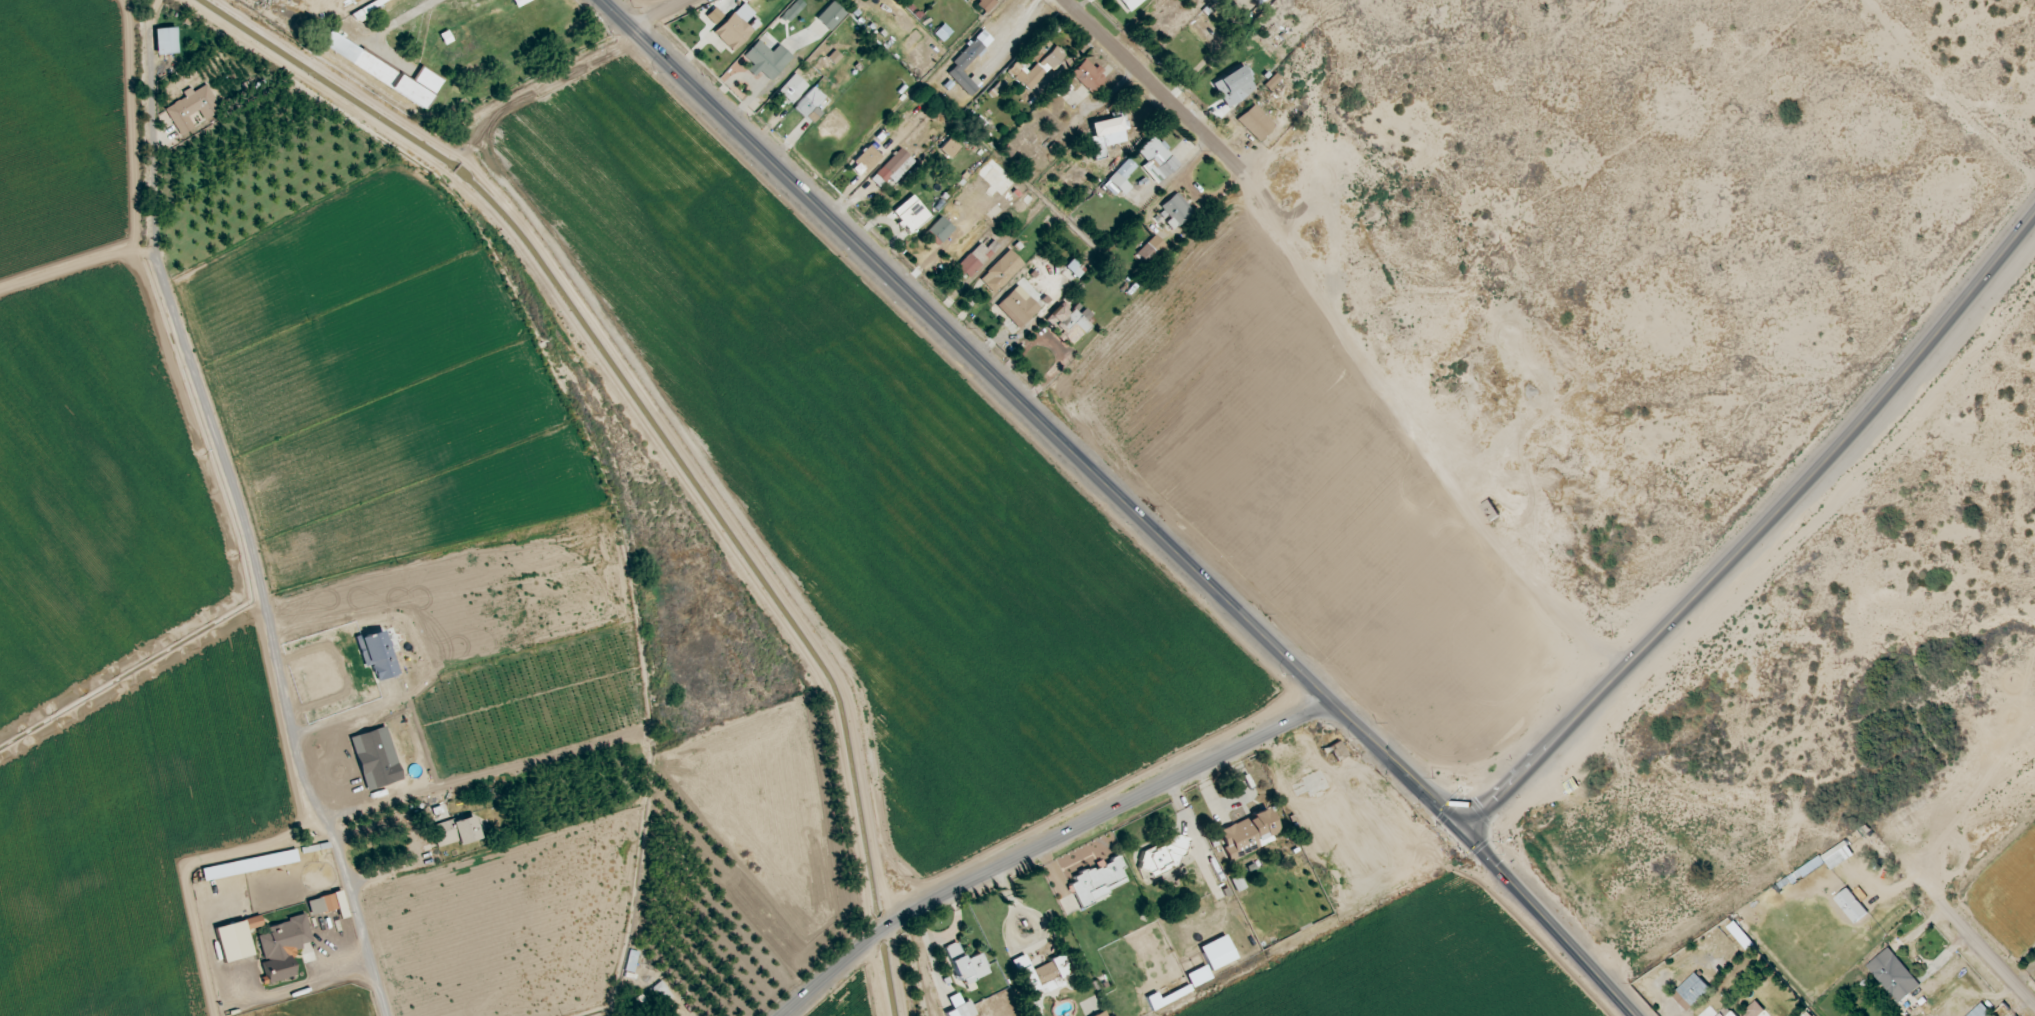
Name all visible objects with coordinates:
building: (519, 2)
building: (1258, 2)
building: (983, 4)
building: (1129, 4)
building: (791, 11)
road: (660, 14)
building: (713, 16)
building: (829, 16)
building: (734, 28)
building: (941, 33)
building: (165, 42)
building: (832, 57)
building: (765, 60)
building: (967, 62)
building: (1035, 65)
building: (383, 72)
building: (1087, 76)
building: (1270, 82)
road: (1154, 84)
building: (1232, 87)
building: (791, 90)
building: (810, 106)
building: (191, 109)
building: (1254, 123)
building: (1103, 136)
building: (948, 148)
building: (866, 159)
building: (1155, 160)
building: (891, 171)
building: (1117, 180)
building: (1174, 211)
building: (910, 214)
building: (940, 230)
building: (1149, 249)
building: (976, 258)
building: (1073, 269)
building: (1000, 272)
building: (1016, 307)
building: (1066, 325)
road: (642, 397)
road: (1123, 502)
road: (238, 512)
road: (1758, 532)
building: (376, 655)
building: (1336, 751)
building: (455, 832)
traffic signals: (1464, 832)
building: (1246, 835)
road: (1047, 844)
building: (1161, 856)
building: (248, 866)
building: (1096, 881)
building: (1236, 883)
building: (327, 905)
building: (1851, 906)
building: (235, 939)
building: (281, 948)
road: (1986, 952)
building: (1216, 953)
building: (629, 962)
building: (965, 965)
road: (2024, 974)
building: (1040, 976)
building: (1893, 976)
building: (1197, 977)
building: (1691, 992)
building: (661, 993)
building: (958, 1007)
building: (1980, 1011)

